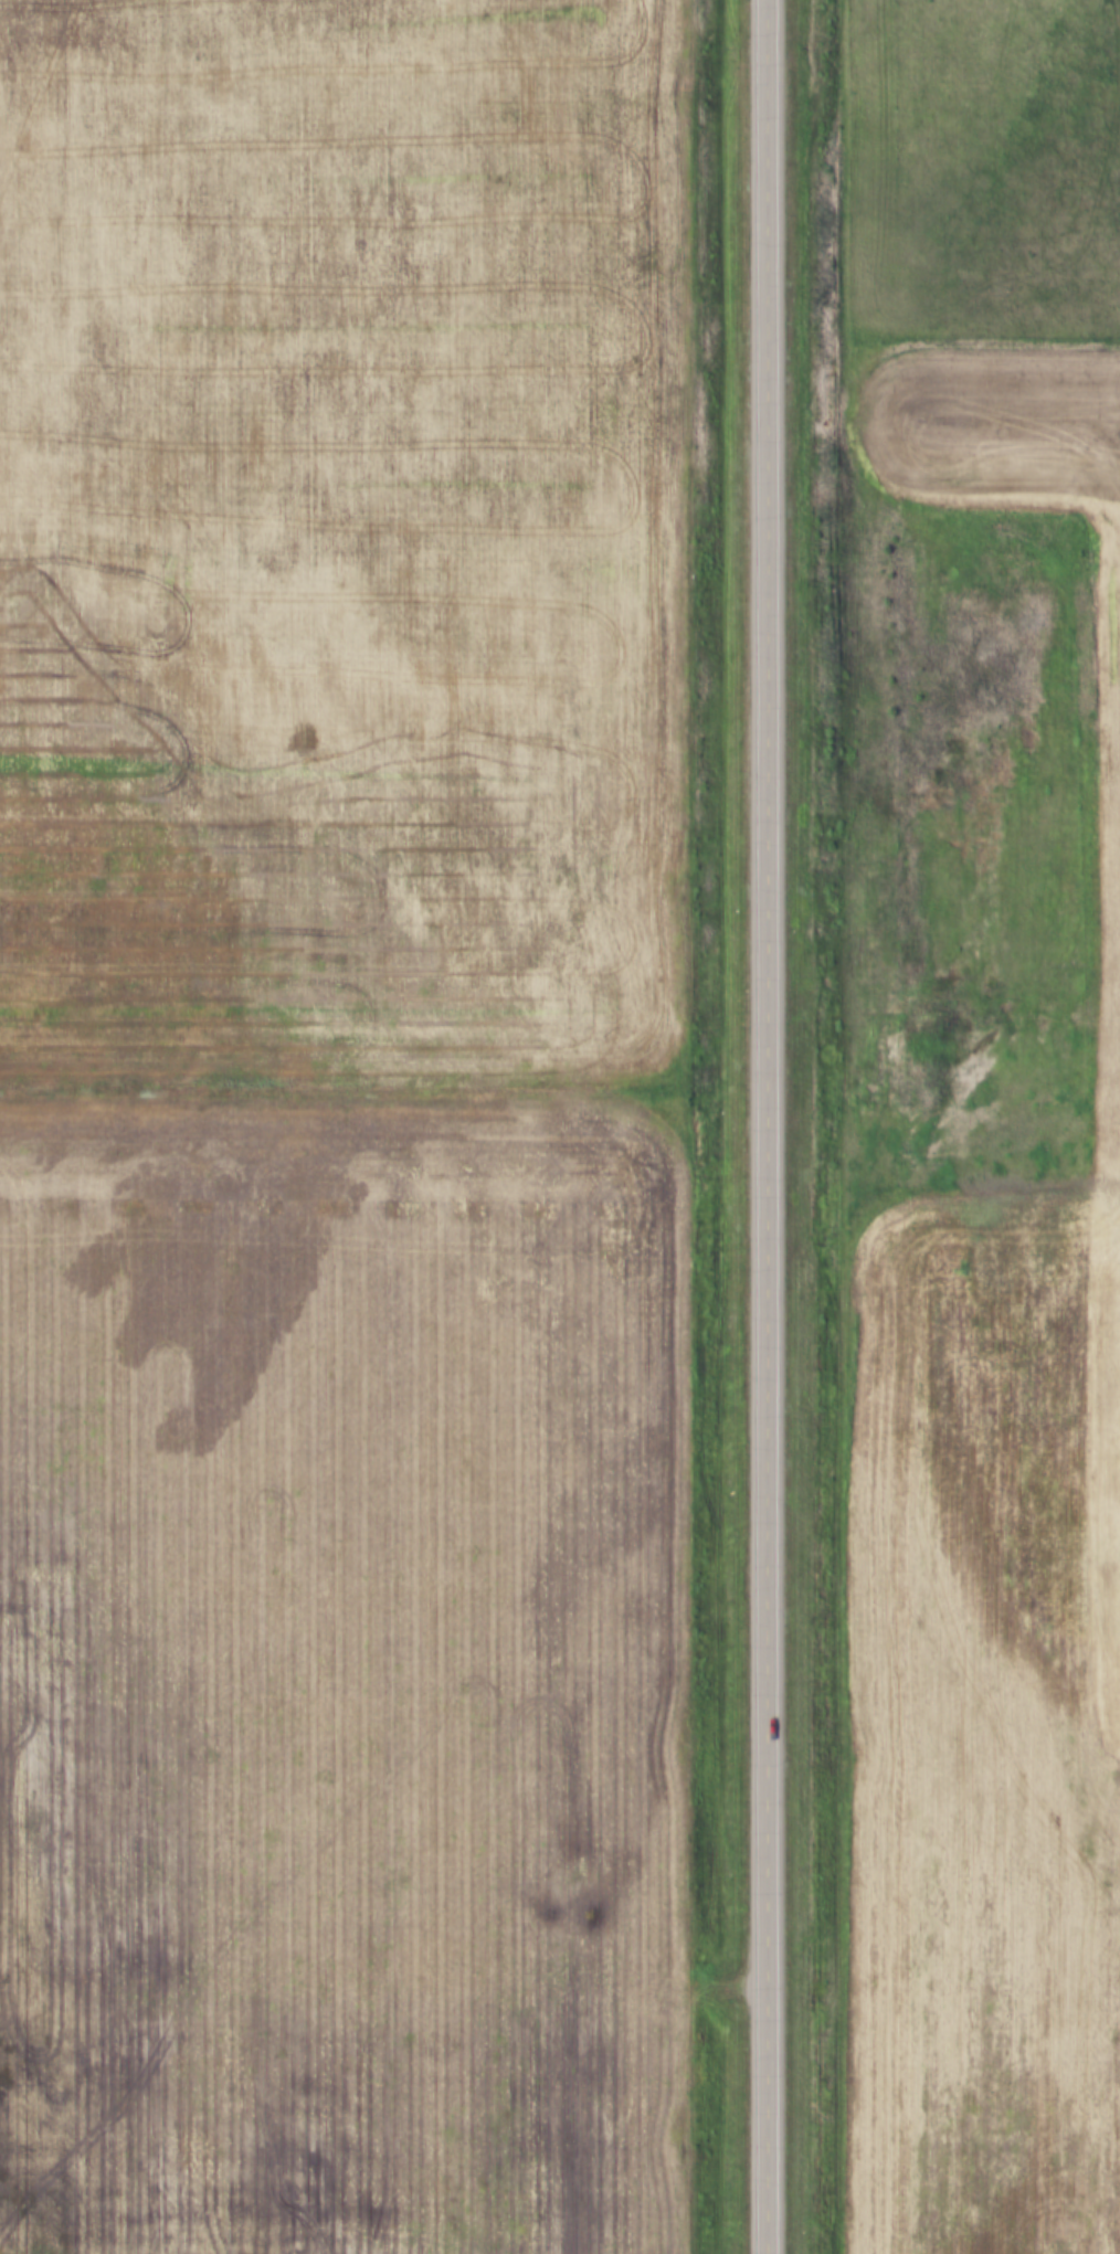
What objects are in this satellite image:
road: (765, 1126)

